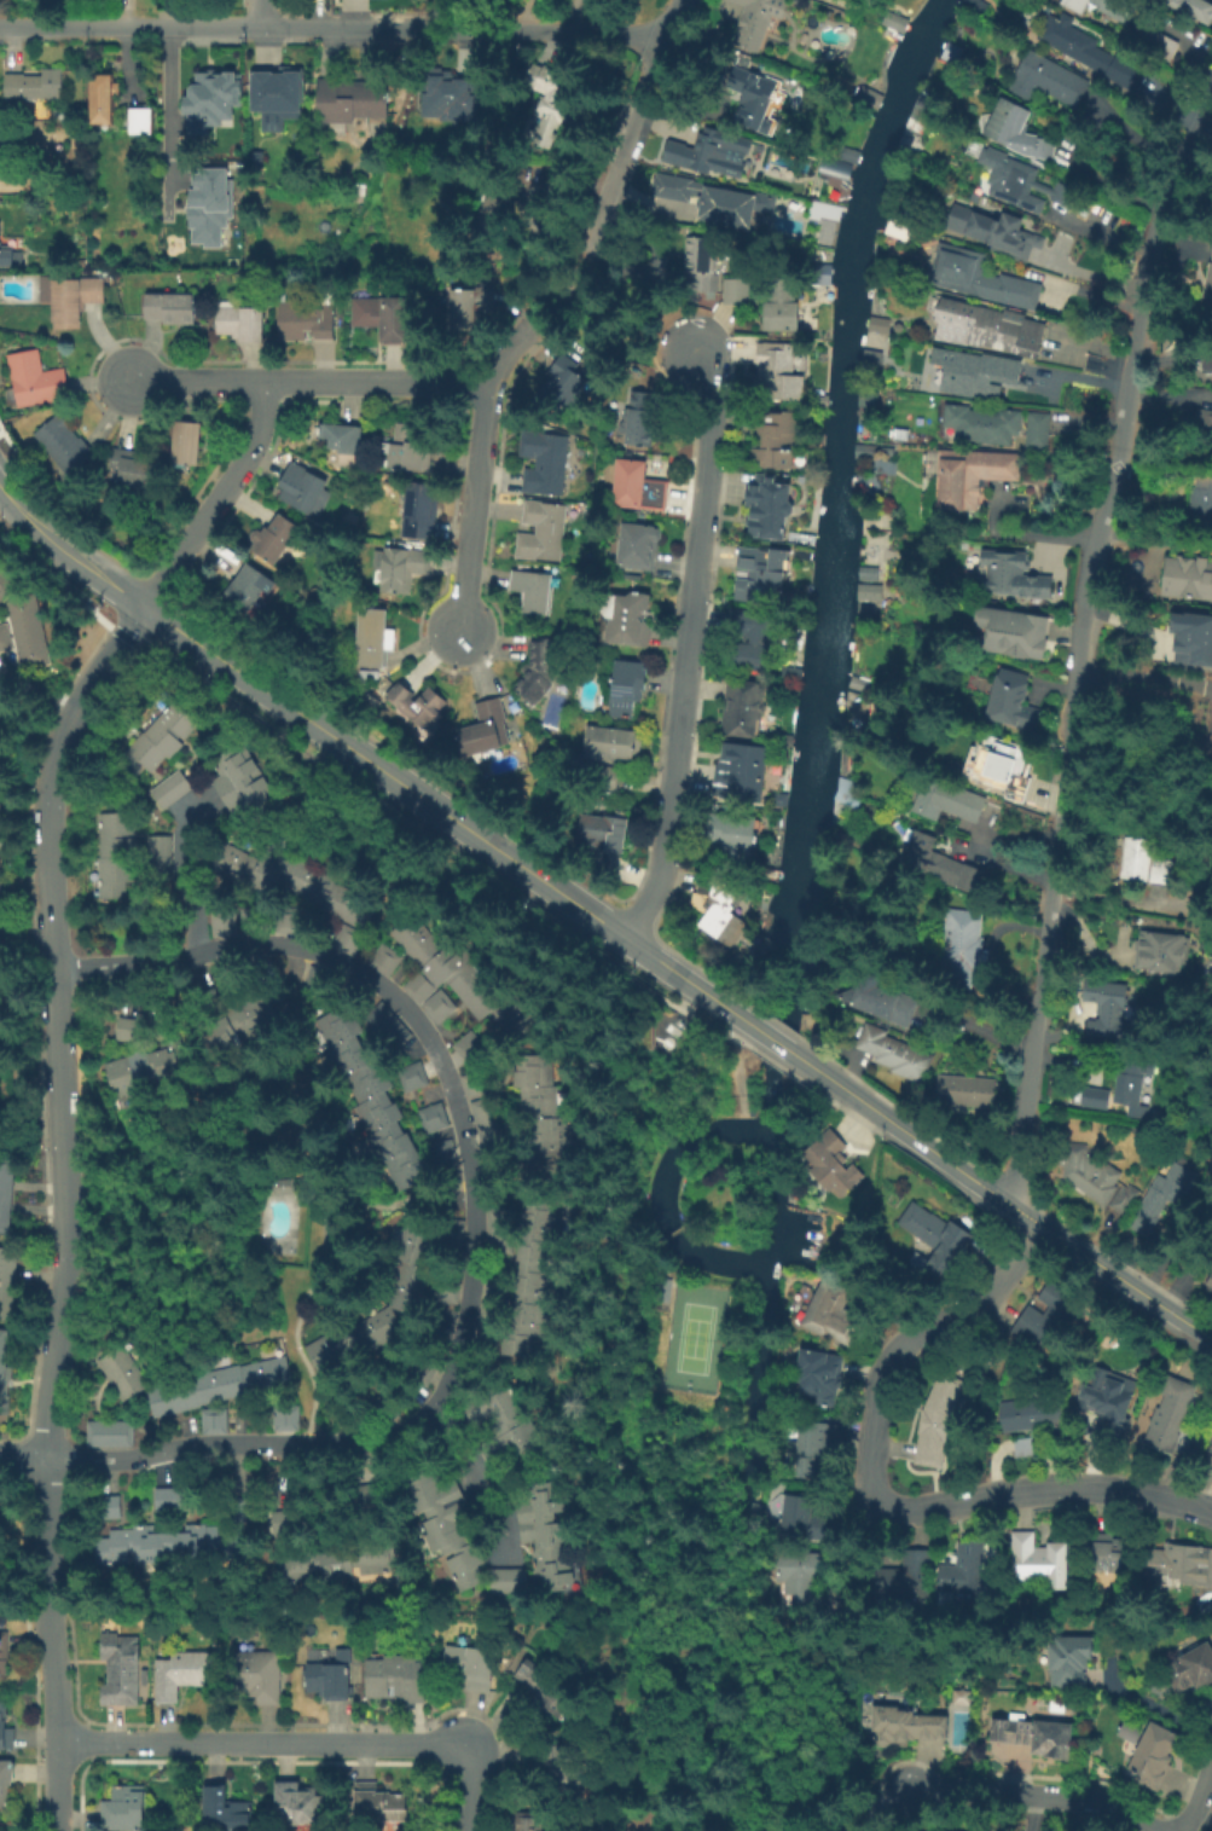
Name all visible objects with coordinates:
building: (613, 1)
building: (1106, 7)
building: (1194, 8)
road: (263, 12)
building: (755, 22)
road: (336, 24)
building: (1158, 42)
building: (1091, 54)
building: (1050, 81)
building: (35, 86)
building: (280, 97)
building: (753, 98)
building: (103, 99)
building: (354, 100)
building: (553, 102)
building: (203, 105)
building: (437, 109)
road: (166, 118)
building: (141, 122)
road: (634, 122)
building: (1013, 127)
building: (698, 152)
building: (6, 156)
building: (834, 170)
building: (1011, 182)
building: (1066, 197)
building: (714, 201)
building: (207, 204)
building: (823, 213)
building: (895, 228)
building: (997, 234)
building: (5, 254)
building: (700, 263)
building: (981, 278)
road: (569, 282)
building: (1207, 289)
building: (737, 294)
building: (71, 301)
building: (782, 306)
building: (170, 309)
building: (468, 309)
building: (383, 317)
building: (306, 321)
building: (875, 324)
building: (242, 325)
building: (988, 328)
building: (1205, 357)
building: (777, 373)
building: (975, 375)
road: (314, 379)
building: (37, 381)
building: (563, 387)
building: (1202, 421)
building: (981, 424)
building: (640, 428)
building: (1038, 431)
building: (1206, 435)
building: (343, 441)
building: (775, 442)
building: (64, 445)
building: (187, 445)
building: (406, 452)
road: (474, 459)
building: (546, 465)
building: (132, 471)
building: (973, 476)
building: (639, 489)
building: (305, 492)
road: (219, 499)
building: (1201, 505)
building: (767, 509)
road: (23, 511)
building: (422, 512)
building: (544, 533)
road: (1153, 539)
building: (278, 540)
building: (639, 547)
building: (400, 568)
building: (762, 569)
road: (98, 573)
building: (864, 573)
building: (1011, 576)
building: (1185, 576)
building: (4, 580)
building: (248, 592)
building: (534, 595)
building: (865, 596)
building: (627, 620)
building: (24, 630)
building: (1014, 635)
building: (4, 637)
building: (1191, 637)
building: (756, 639)
building: (375, 641)
road: (689, 648)
road: (1074, 654)
building: (538, 673)
road: (1142, 678)
road: (37, 689)
building: (626, 690)
building: (1015, 706)
building: (419, 708)
building: (740, 711)
building: (4, 725)
building: (485, 732)
building: (161, 741)
building: (613, 748)
building: (1010, 772)
building: (741, 775)
building: (245, 786)
building: (167, 788)
building: (947, 802)
road: (440, 811)
building: (2, 832)
building: (604, 833)
building: (735, 836)
building: (157, 852)
building: (120, 857)
building: (939, 863)
building: (1150, 864)
road: (185, 873)
building: (301, 885)
building: (720, 908)
building: (1, 921)
building: (221, 926)
building: (342, 939)
building: (963, 946)
building: (1164, 954)
building: (465, 979)
building: (881, 1001)
building: (1110, 1009)
building: (1, 1013)
road: (54, 1016)
building: (128, 1027)
building: (239, 1027)
building: (390, 1029)
building: (639, 1032)
road: (775, 1042)
building: (463, 1049)
building: (894, 1054)
building: (147, 1068)
building: (410, 1076)
building: (1133, 1089)
building: (969, 1093)
building: (371, 1097)
building: (1097, 1097)
building: (482, 1105)
building: (543, 1119)
building: (437, 1120)
building: (445, 1155)
building: (830, 1165)
building: (1097, 1181)
building: (284, 1186)
building: (1162, 1196)
building: (5, 1199)
road: (1010, 1205)
road: (476, 1215)
building: (503, 1233)
building: (939, 1245)
building: (414, 1268)
building: (533, 1279)
building: (1208, 1282)
building: (7, 1286)
building: (834, 1303)
building: (1050, 1321)
building: (382, 1331)
park: (694, 1339)
building: (325, 1351)
building: (822, 1373)
building: (127, 1375)
building: (220, 1387)
building: (1104, 1402)
building: (1172, 1413)
building: (283, 1416)
building: (1025, 1419)
building: (210, 1420)
building: (936, 1421)
building: (508, 1425)
building: (108, 1433)
building: (1026, 1449)
building: (820, 1452)
road: (22, 1453)
building: (1208, 1459)
road: (469, 1473)
road: (876, 1495)
building: (164, 1499)
building: (108, 1506)
building: (278, 1518)
building: (801, 1525)
building: (445, 1526)
road: (47, 1531)
building: (550, 1536)
building: (172, 1545)
building: (1108, 1558)
building: (1038, 1561)
building: (343, 1563)
building: (1181, 1566)
building: (904, 1577)
building: (968, 1577)
building: (506, 1580)
building: (802, 1588)
building: (4, 1656)
building: (1068, 1662)
building: (471, 1668)
building: (1191, 1671)
building: (121, 1673)
building: (184, 1675)
building: (257, 1678)
building: (329, 1680)
building: (396, 1680)
building: (545, 1681)
building: (958, 1696)
road: (1152, 1704)
road: (53, 1720)
building: (905, 1727)
building: (5, 1728)
building: (1126, 1731)
building: (1036, 1738)
road: (300, 1744)
building: (1155, 1756)
building: (5, 1784)
road: (1199, 1791)
road: (1038, 1795)
building: (298, 1803)
building: (379, 1806)
building: (126, 1808)
building: (225, 1810)
road: (897, 1810)
road: (862, 1814)
building: (523, 1823)
building: (962, 1827)

